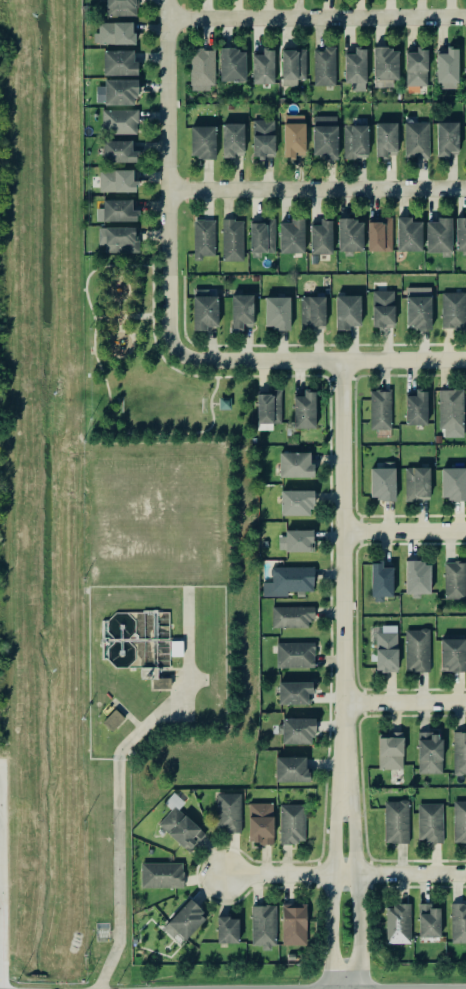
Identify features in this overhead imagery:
building: (120, 7)
road: (317, 17)
building: (113, 32)
building: (118, 62)
building: (231, 64)
building: (465, 64)
building: (355, 65)
building: (262, 66)
building: (291, 66)
building: (323, 66)
building: (415, 66)
building: (384, 67)
building: (447, 68)
building: (201, 69)
building: (119, 91)
building: (118, 121)
building: (293, 134)
building: (324, 136)
building: (263, 137)
building: (231, 138)
building: (385, 138)
building: (446, 138)
building: (416, 139)
building: (465, 139)
building: (354, 140)
building: (201, 141)
building: (117, 150)
road: (169, 173)
building: (117, 180)
road: (317, 190)
building: (118, 210)
building: (378, 233)
building: (460, 233)
building: (349, 234)
building: (408, 234)
building: (291, 235)
building: (438, 235)
building: (261, 236)
building: (320, 237)
building: (203, 238)
building: (117, 239)
building: (232, 239)
road: (134, 265)
road: (156, 265)
road: (117, 268)
road: (94, 269)
road: (115, 271)
road: (119, 271)
road: (113, 275)
road: (121, 275)
road: (117, 279)
road: (83, 289)
road: (128, 290)
road: (152, 290)
road: (107, 291)
road: (88, 303)
building: (382, 307)
building: (418, 307)
road: (118, 308)
building: (204, 309)
building: (453, 309)
building: (240, 310)
building: (346, 310)
building: (311, 311)
road: (131, 312)
building: (276, 312)
road: (135, 315)
road: (106, 316)
road: (119, 323)
road: (119, 356)
road: (317, 359)
road: (167, 363)
park: (148, 366)
road: (101, 371)
road: (237, 375)
road: (214, 390)
park: (160, 403)
road: (214, 403)
building: (224, 403)
building: (268, 407)
building: (415, 407)
building: (380, 409)
building: (303, 410)
building: (450, 411)
road: (172, 433)
building: (295, 464)
building: (382, 480)
building: (416, 483)
building: (452, 483)
building: (295, 501)
road: (404, 533)
building: (298, 539)
road: (342, 571)
building: (417, 577)
building: (453, 579)
building: (288, 580)
road: (148, 610)
building: (291, 615)
road: (154, 622)
road: (104, 637)
road: (178, 638)
road: (101, 639)
road: (102, 639)
road: (131, 639)
road: (104, 641)
building: (175, 648)
building: (386, 648)
building: (416, 649)
road: (154, 651)
building: (294, 654)
building: (451, 654)
wastewater plant: (153, 663)
road: (149, 668)
road: (177, 668)
building: (160, 682)
road: (163, 688)
building: (293, 692)
street lamp: (152, 702)
road: (404, 704)
road: (128, 714)
building: (111, 719)
road: (122, 720)
building: (296, 730)
street lamp: (105, 736)
building: (390, 750)
building: (429, 752)
building: (459, 752)
building: (290, 768)
road: (117, 777)
building: (228, 812)
building: (396, 821)
building: (429, 821)
building: (459, 821)
street lamp: (109, 822)
building: (260, 822)
building: (292, 823)
building: (180, 828)
building: (161, 874)
road: (345, 875)
road: (329, 885)
road: (352, 885)
street lamp: (109, 913)
building: (186, 919)
building: (428, 920)
building: (458, 922)
building: (293, 923)
building: (397, 923)
building: (263, 925)
building: (226, 929)

